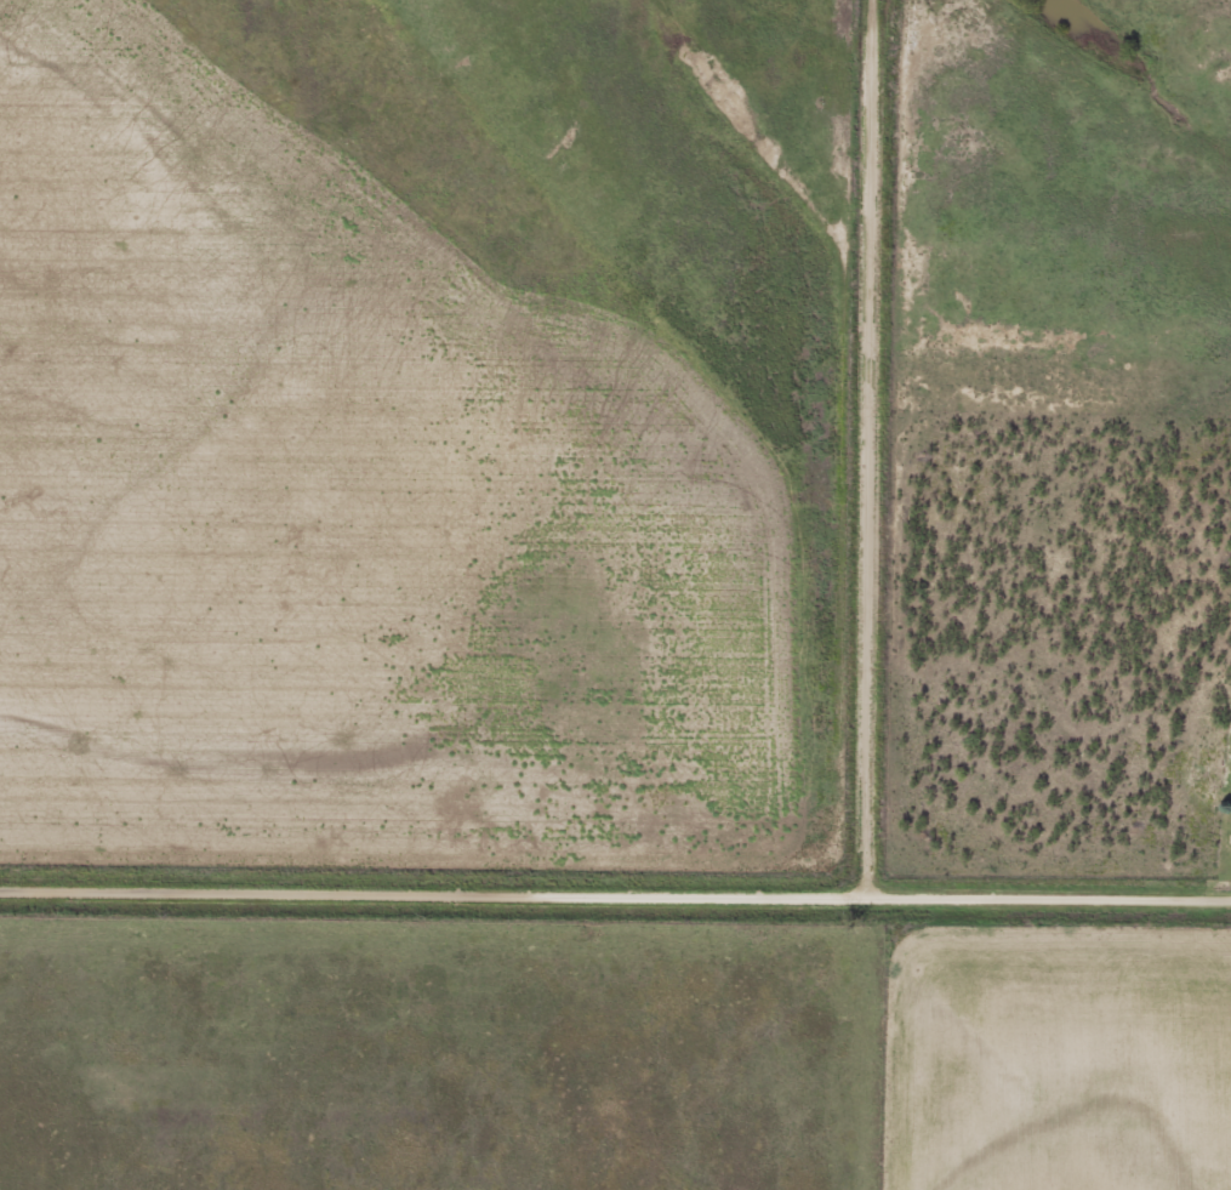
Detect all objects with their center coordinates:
road: (870, 446)
road: (434, 890)
road: (1050, 895)

